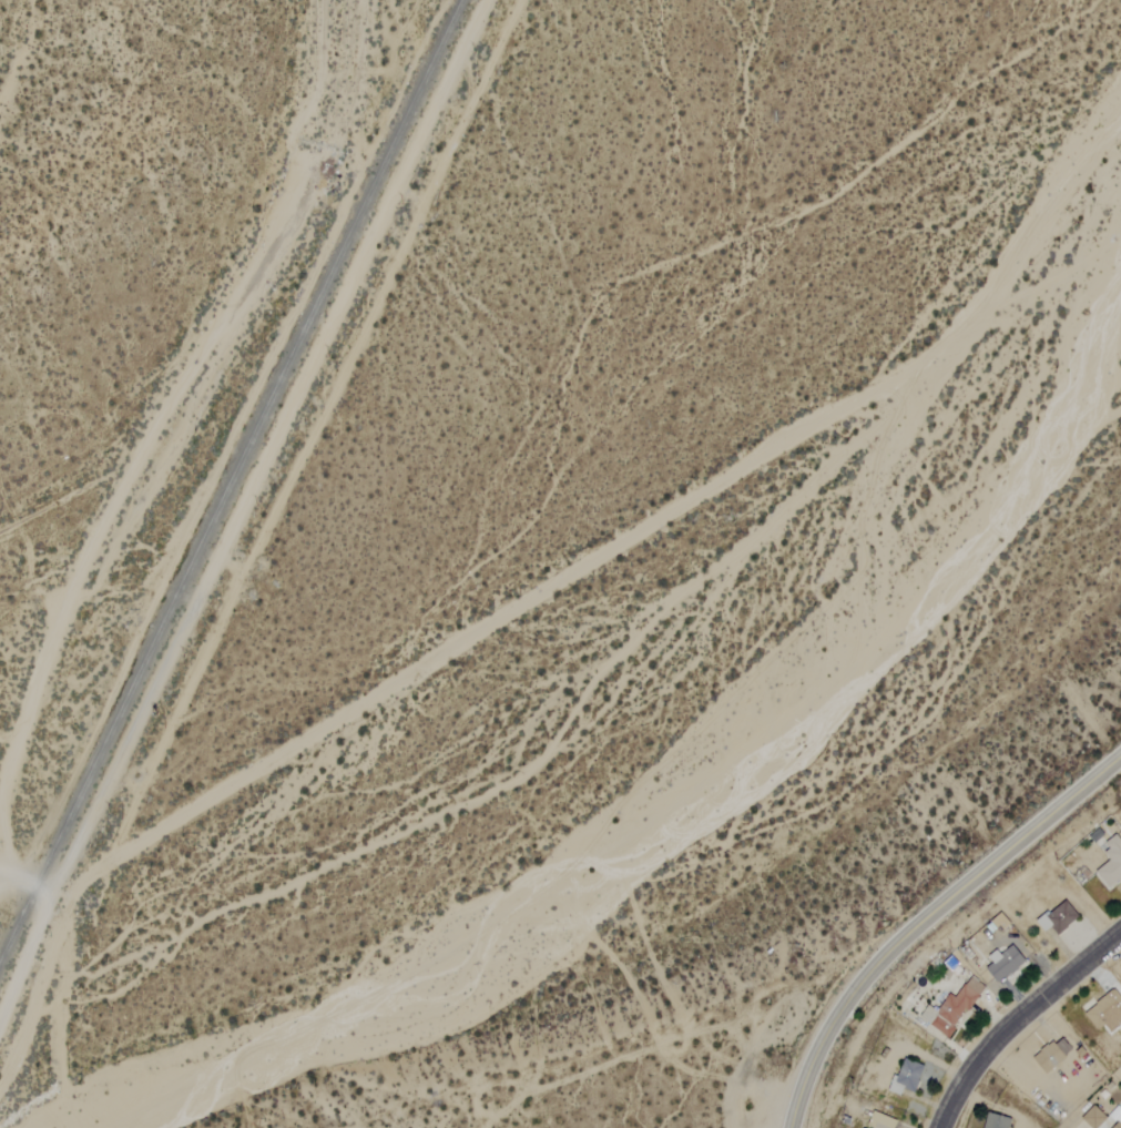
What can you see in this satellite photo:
railway: (231, 484)
road: (238, 509)
building: (1111, 863)
road: (24, 881)
building: (1059, 917)
road: (926, 918)
building: (1000, 922)
building: (1005, 962)
building: (952, 1007)
building: (1105, 1013)
road: (1017, 1018)
road: (681, 1037)
building: (1053, 1054)
building: (907, 1076)
building: (1094, 1117)
building: (881, 1121)
building: (997, 1121)
building: (1118, 1124)

